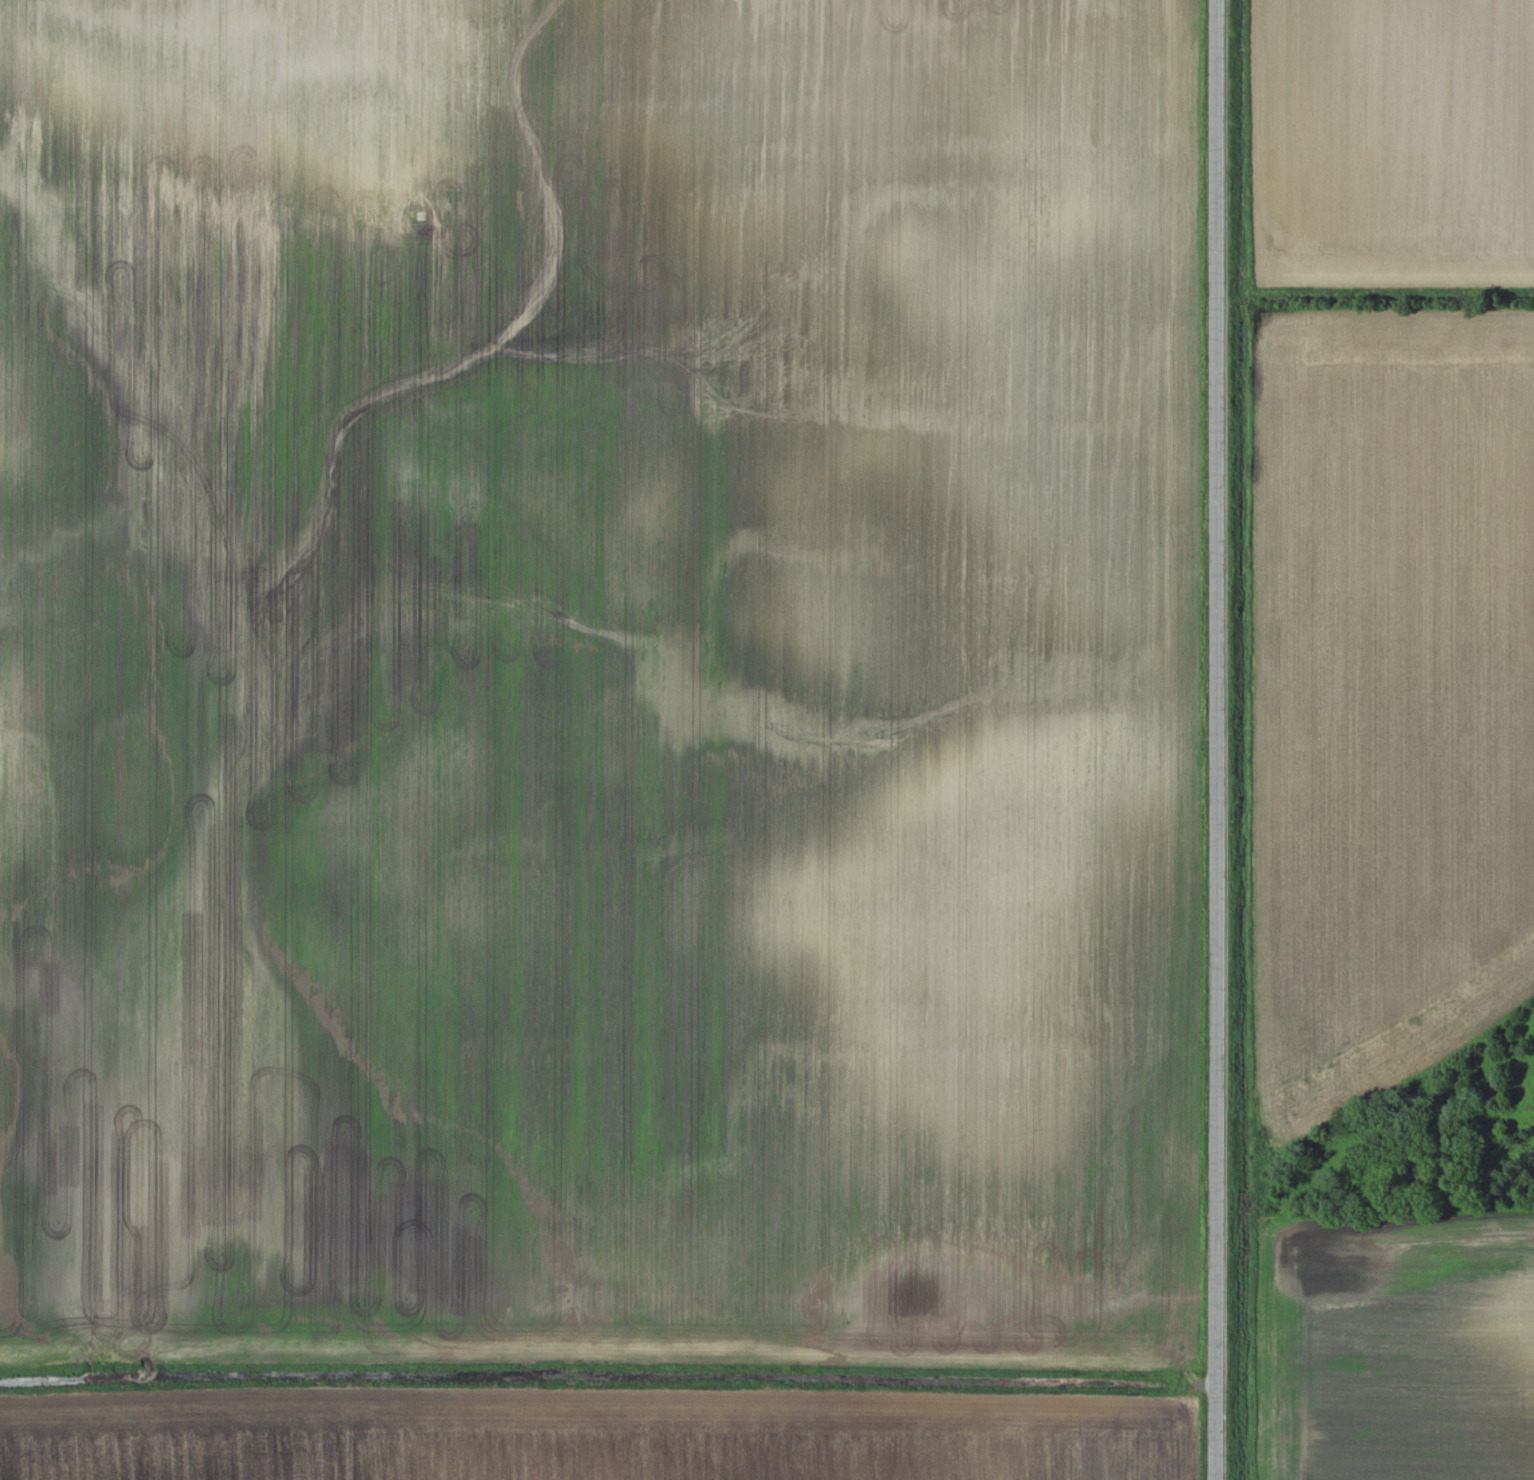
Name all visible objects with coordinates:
road: (1218, 740)

